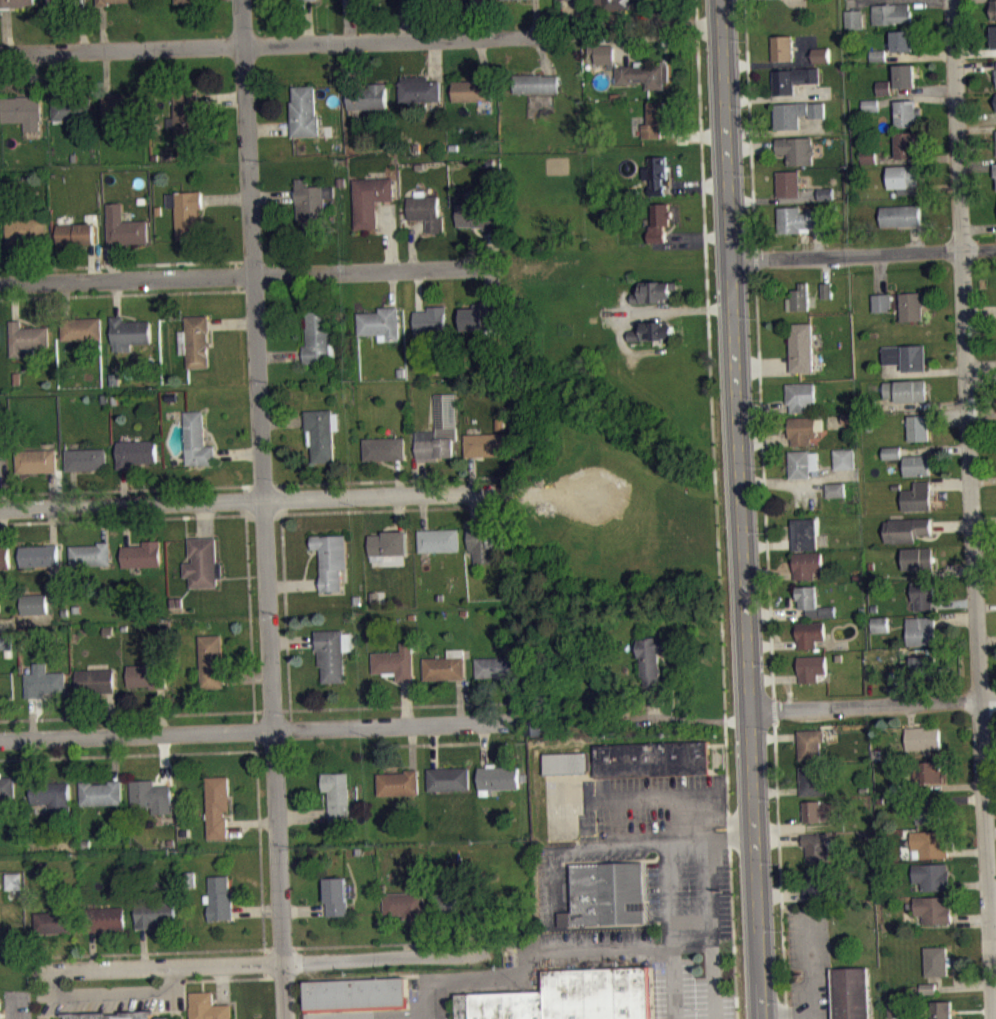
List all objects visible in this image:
building: (184, 0)
road: (861, 0)
building: (111, 1)
building: (62, 2)
building: (521, 2)
building: (567, 2)
building: (15, 3)
building: (308, 3)
building: (615, 3)
building: (409, 7)
building: (994, 9)
building: (891, 13)
road: (536, 17)
road: (476, 18)
building: (854, 19)
road: (405, 20)
road: (640, 20)
road: (348, 21)
road: (308, 22)
road: (82, 25)
road: (104, 28)
road: (5, 30)
building: (994, 34)
road: (660, 36)
building: (903, 39)
road: (268, 45)
building: (783, 46)
building: (604, 52)
road: (543, 53)
road: (975, 53)
building: (821, 54)
building: (878, 54)
road: (920, 54)
road: (482, 57)
road: (435, 59)
building: (822, 61)
building: (878, 61)
road: (353, 64)
road: (768, 64)
road: (975, 66)
road: (105, 72)
building: (995, 72)
road: (34, 73)
building: (646, 73)
building: (906, 73)
road: (57, 74)
building: (793, 79)
building: (536, 82)
building: (884, 86)
building: (421, 87)
road: (811, 88)
road: (923, 88)
building: (474, 89)
building: (884, 94)
building: (368, 96)
road: (776, 97)
road: (916, 97)
building: (995, 98)
road: (223, 99)
building: (122, 104)
building: (869, 105)
building: (71, 108)
building: (23, 110)
building: (304, 111)
building: (871, 111)
building: (796, 112)
building: (906, 113)
building: (187, 116)
building: (655, 117)
road: (976, 119)
road: (749, 124)
road: (270, 128)
road: (975, 128)
road: (778, 131)
road: (695, 134)
building: (907, 145)
road: (751, 146)
building: (796, 149)
building: (868, 156)
road: (916, 159)
road: (973, 163)
building: (995, 169)
building: (658, 173)
building: (904, 179)
building: (788, 182)
road: (695, 186)
road: (939, 188)
building: (825, 193)
road: (274, 196)
road: (227, 197)
building: (371, 199)
road: (773, 200)
building: (312, 205)
building: (426, 209)
building: (603, 210)
building: (187, 212)
building: (901, 214)
building: (476, 216)
building: (800, 218)
building: (659, 221)
building: (124, 226)
building: (23, 227)
road: (978, 228)
building: (77, 233)
road: (390, 236)
road: (697, 236)
road: (916, 238)
road: (705, 239)
road: (412, 242)
road: (818, 242)
road: (493, 248)
road: (863, 254)
road: (755, 260)
road: (112, 261)
road: (90, 262)
road: (127, 264)
road: (13, 265)
road: (826, 269)
road: (881, 273)
road: (237, 275)
road: (250, 275)
road: (488, 285)
road: (393, 288)
building: (827, 289)
road: (418, 290)
building: (654, 290)
road: (127, 294)
building: (828, 297)
road: (117, 298)
building: (799, 298)
road: (66, 299)
road: (14, 301)
building: (901, 304)
road: (980, 311)
road: (642, 312)
building: (478, 317)
building: (430, 321)
building: (381, 323)
road: (232, 324)
building: (81, 328)
building: (653, 331)
building: (130, 332)
building: (319, 337)
building: (27, 338)
building: (196, 341)
building: (803, 345)
road: (280, 355)
building: (907, 356)
road: (981, 364)
road: (764, 365)
road: (928, 373)
road: (981, 375)
road: (760, 377)
building: (908, 389)
building: (802, 396)
road: (934, 404)
road: (764, 408)
road: (982, 412)
road: (951, 413)
building: (849, 417)
road: (283, 420)
building: (920, 427)
building: (803, 429)
building: (439, 431)
building: (322, 432)
building: (197, 438)
road: (766, 441)
building: (486, 443)
building: (3, 444)
building: (385, 448)
road: (935, 449)
building: (136, 452)
road: (238, 452)
building: (892, 452)
building: (844, 458)
building: (86, 459)
building: (893, 459)
building: (36, 460)
building: (803, 463)
building: (918, 464)
road: (471, 473)
road: (399, 476)
road: (421, 477)
road: (983, 480)
road: (2, 481)
road: (778, 482)
road: (951, 484)
road: (124, 485)
road: (256, 485)
road: (74, 488)
building: (836, 488)
road: (51, 489)
building: (836, 496)
building: (919, 496)
road: (249, 498)
road: (242, 506)
road: (264, 509)
road: (395, 509)
road: (473, 509)
road: (741, 509)
road: (971, 509)
road: (424, 510)
road: (400, 511)
road: (239, 514)
road: (263, 516)
road: (984, 518)
road: (204, 519)
road: (104, 522)
road: (126, 523)
road: (952, 523)
road: (52, 525)
road: (2, 527)
building: (909, 528)
building: (805, 533)
building: (439, 538)
building: (390, 541)
building: (485, 541)
road: (768, 544)
road: (984, 544)
building: (90, 553)
building: (142, 553)
building: (39, 554)
building: (4, 557)
building: (332, 558)
building: (920, 560)
building: (203, 562)
building: (807, 564)
road: (954, 569)
road: (770, 571)
road: (294, 584)
road: (768, 589)
building: (923, 595)
building: (812, 601)
road: (285, 602)
building: (34, 603)
road: (953, 604)
road: (985, 606)
road: (777, 613)
road: (1, 621)
road: (956, 621)
building: (880, 623)
building: (921, 631)
building: (809, 633)
road: (986, 639)
road: (292, 640)
building: (5, 641)
road: (772, 645)
building: (6, 648)
building: (333, 653)
building: (213, 660)
building: (396, 660)
building: (651, 660)
building: (446, 664)
building: (497, 664)
building: (812, 667)
building: (923, 667)
building: (147, 673)
road: (248, 676)
road: (775, 678)
building: (96, 679)
building: (44, 680)
road: (513, 697)
road: (460, 700)
road: (406, 701)
road: (653, 702)
road: (873, 703)
road: (401, 705)
road: (773, 707)
road: (161, 710)
road: (111, 713)
road: (127, 715)
road: (33, 717)
road: (290, 718)
road: (690, 719)
road: (256, 729)
road: (775, 737)
road: (255, 738)
building: (924, 738)
road: (431, 743)
road: (485, 743)
building: (811, 743)
road: (434, 744)
road: (412, 746)
road: (235, 749)
road: (726, 749)
road: (115, 756)
road: (164, 758)
building: (652, 758)
road: (35, 759)
building: (567, 762)
road: (989, 764)
building: (932, 771)
building: (449, 777)
building: (499, 777)
building: (400, 781)
building: (812, 781)
road: (956, 785)
building: (8, 786)
road: (777, 791)
building: (101, 792)
building: (52, 794)
building: (338, 794)
road: (989, 794)
building: (152, 795)
parking lot: (653, 798)
road: (963, 798)
building: (218, 805)
building: (821, 809)
building: (930, 810)
road: (303, 815)
road: (253, 821)
road: (793, 826)
road: (670, 831)
road: (990, 831)
road: (778, 840)
building: (929, 844)
building: (817, 846)
road: (706, 848)
road: (966, 851)
road: (780, 869)
building: (932, 876)
building: (818, 881)
road: (968, 883)
building: (15, 887)
road: (991, 889)
parking lot: (691, 891)
building: (609, 892)
road: (781, 893)
building: (338, 895)
building: (220, 897)
building: (455, 901)
building: (405, 903)
parking lot: (547, 905)
building: (933, 908)
road: (257, 909)
road: (304, 909)
building: (154, 911)
road: (969, 916)
building: (106, 918)
road: (556, 919)
building: (56, 921)
road: (670, 925)
road: (469, 934)
road: (418, 936)
road: (784, 941)
road: (992, 945)
road: (143, 947)
road: (230, 949)
road: (92, 950)
road: (41, 951)
road: (531, 959)
building: (938, 960)
road: (809, 962)
road: (261, 963)
parking lot: (810, 964)
road: (226, 978)
road: (993, 980)
road: (963, 986)
building: (928, 987)
building: (356, 993)
parking lot: (688, 993)
building: (850, 993)
building: (928, 995)
building: (567, 997)
building: (208, 1006)
building: (1, 1007)
building: (896, 1009)
building: (941, 1009)
road: (790, 1013)
parking lot: (359, 1014)
building: (113, 1015)
road: (366, 1016)
building: (164, 1017)

